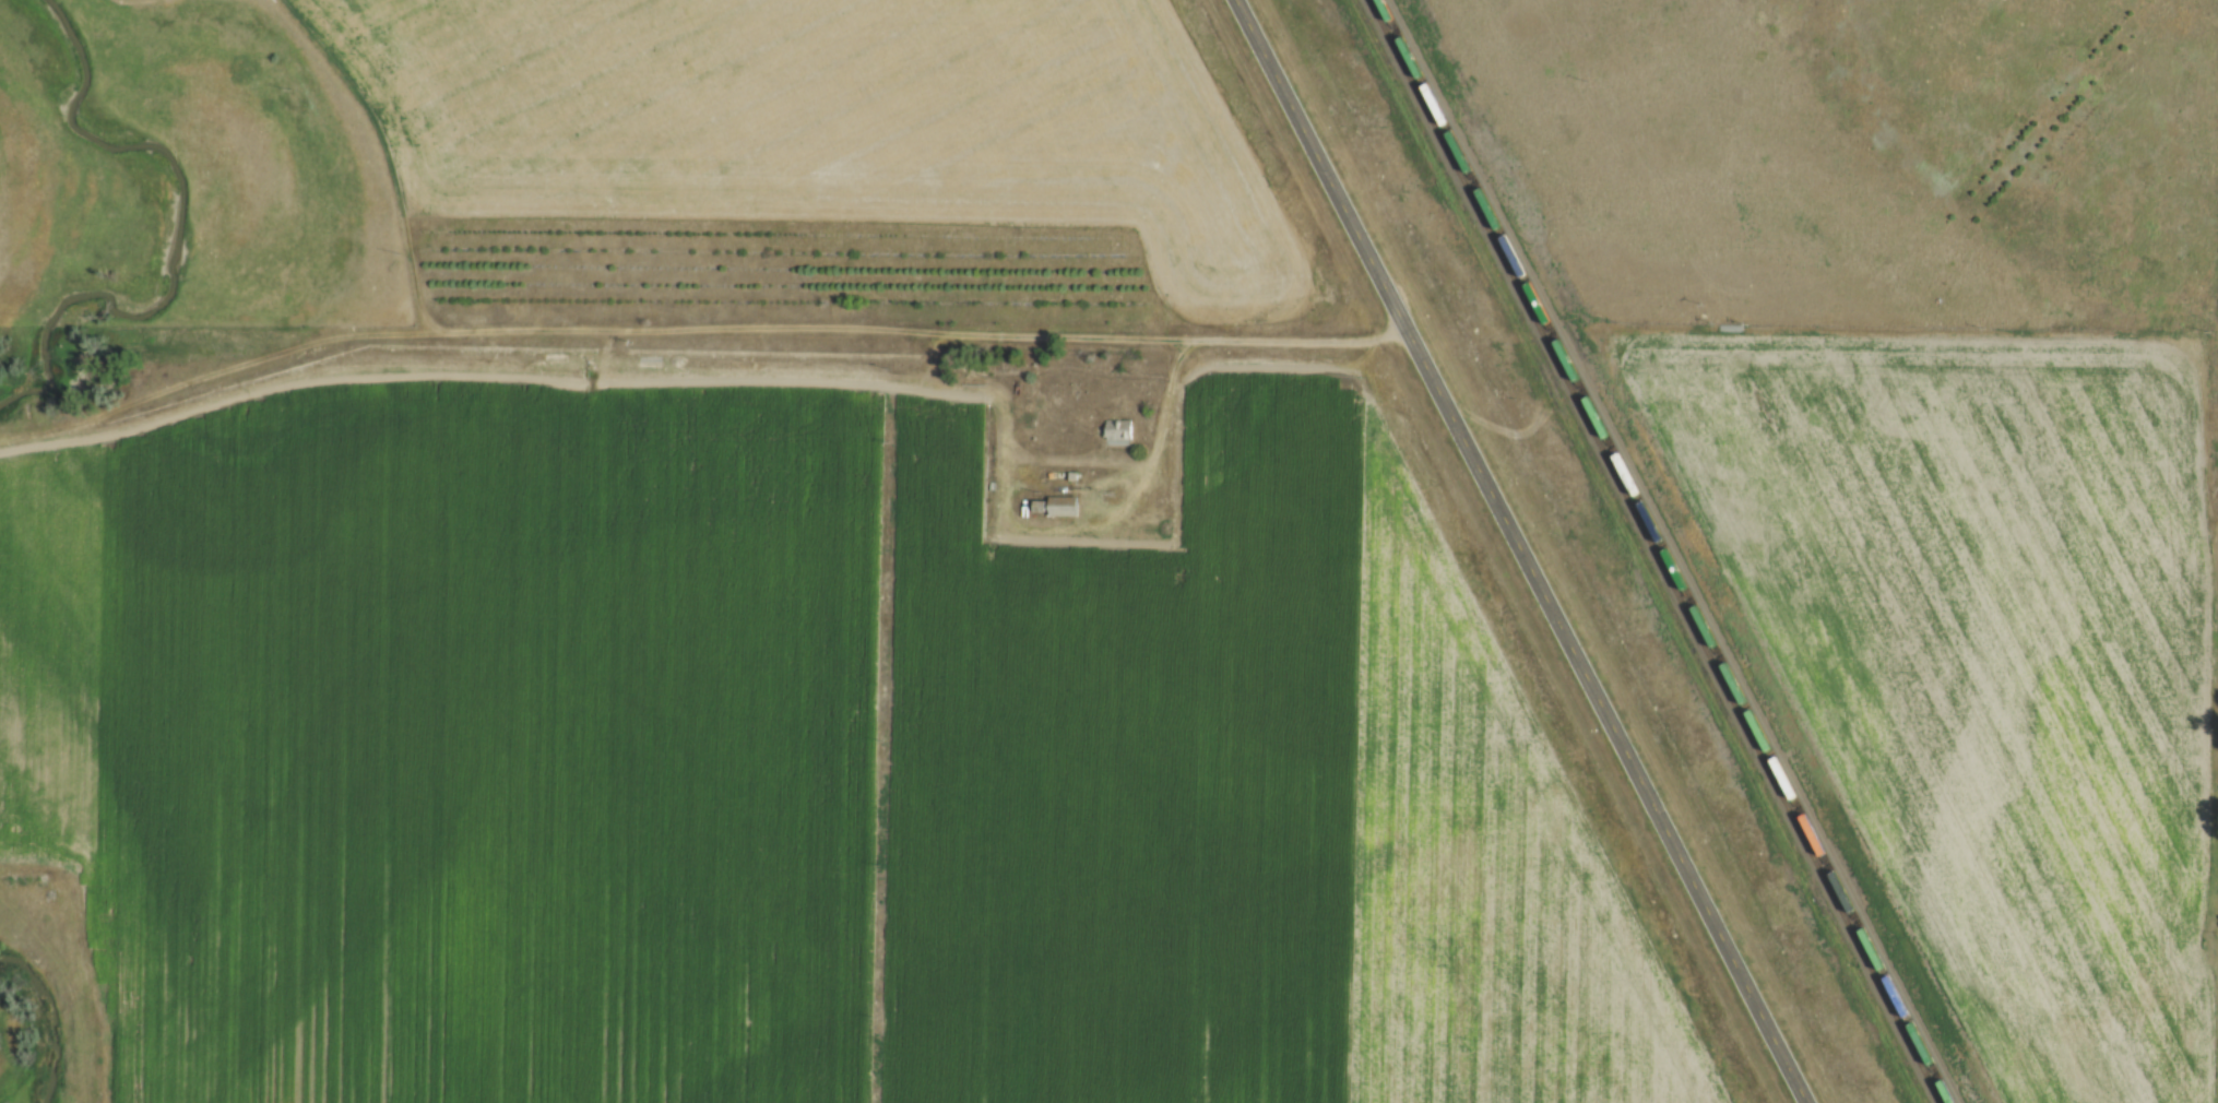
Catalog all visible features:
crop: (835, 120)
road: (1236, 336)
building: (981, 380)
building: (1117, 426)
building: (1057, 506)
road: (1039, 531)
railway: (1656, 550)
road: (1523, 551)
railway: (1668, 551)
crop: (1990, 657)
crop: (802, 755)

